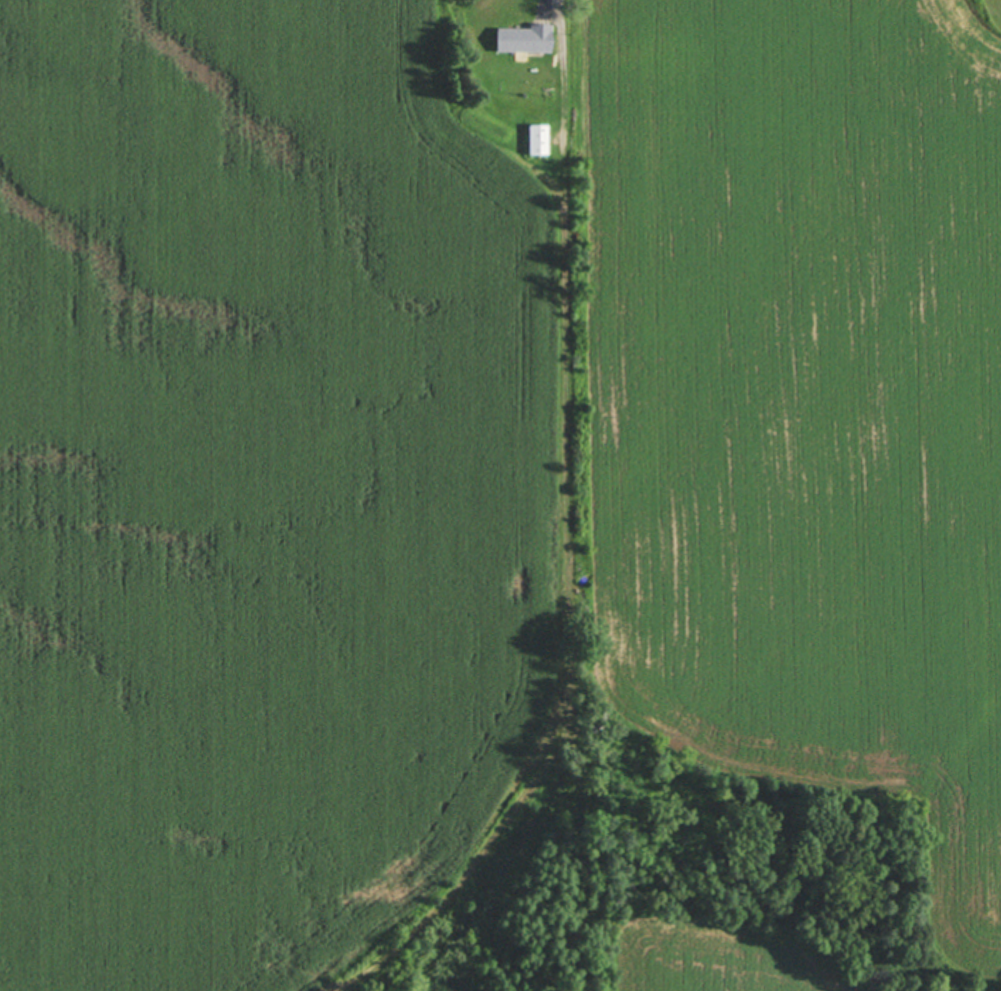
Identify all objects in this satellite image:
building: (524, 37)
building: (537, 138)

